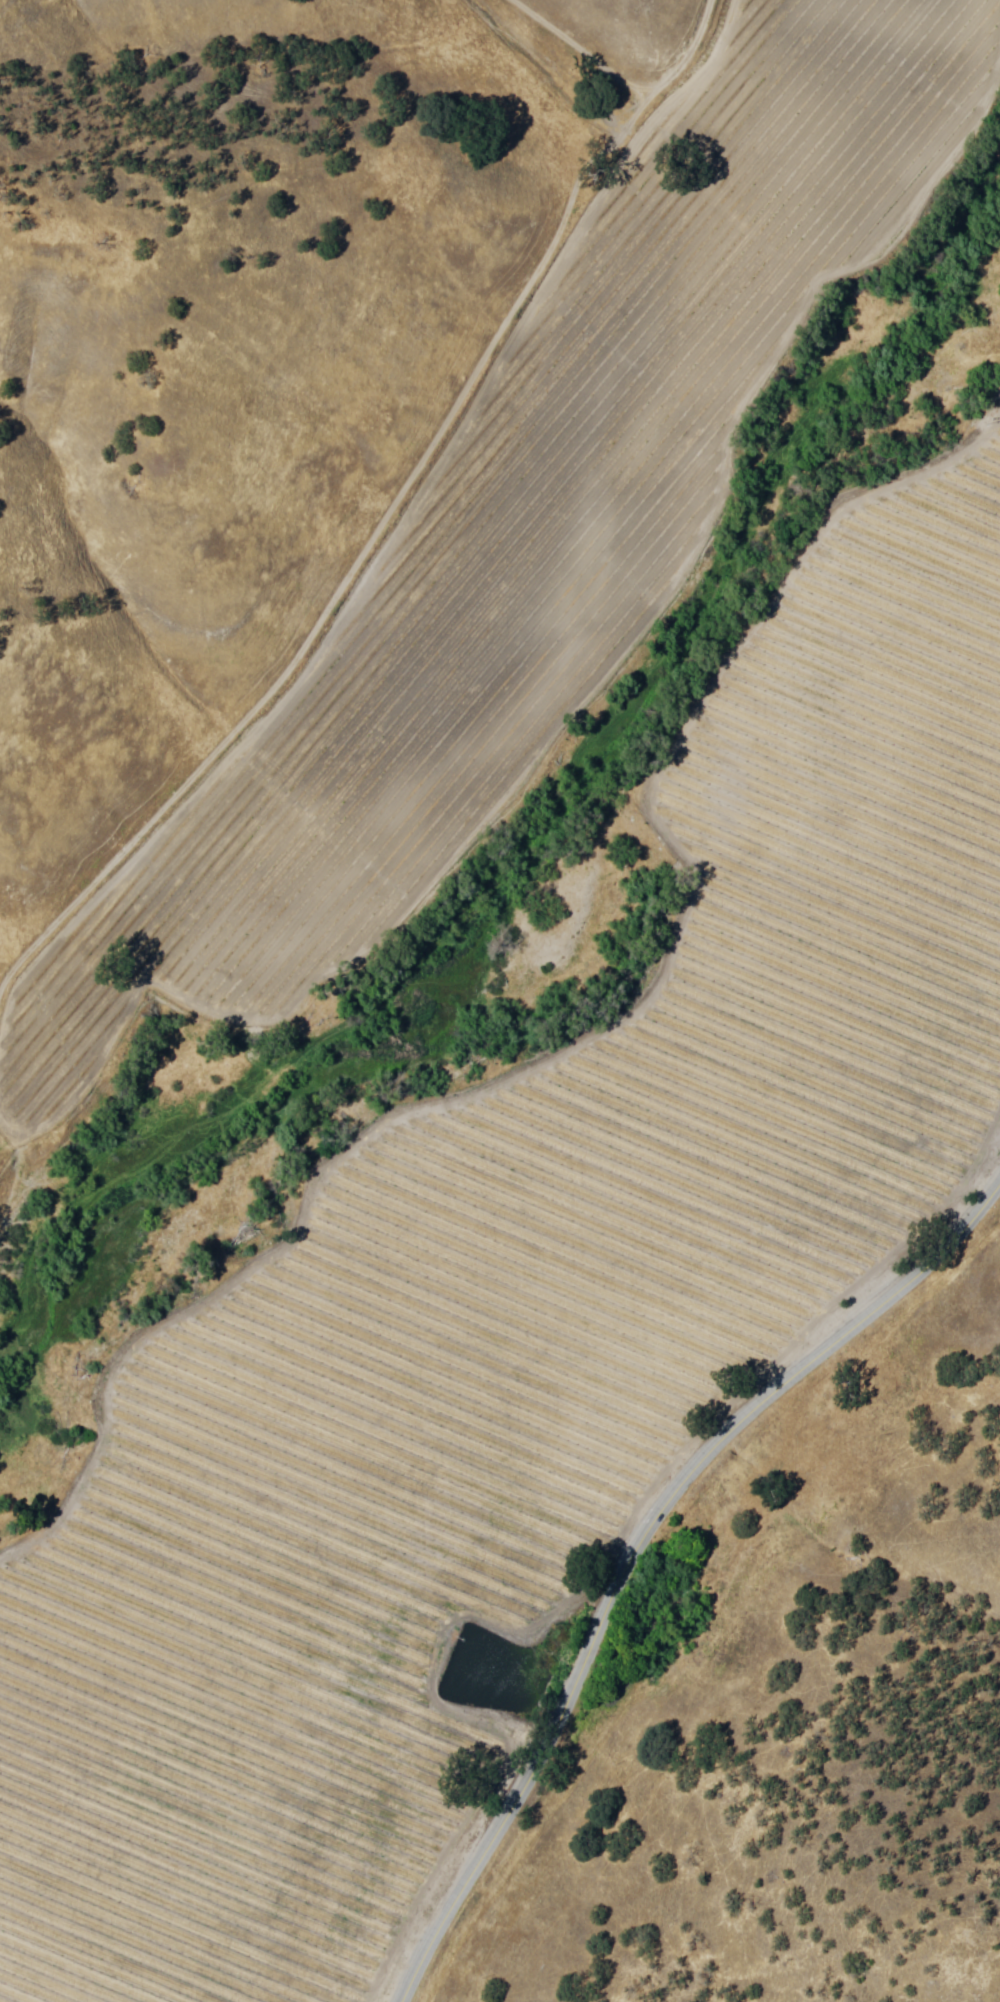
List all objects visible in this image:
road: (580, 29)
road: (756, 145)
crop: (806, 997)
road: (644, 1546)

